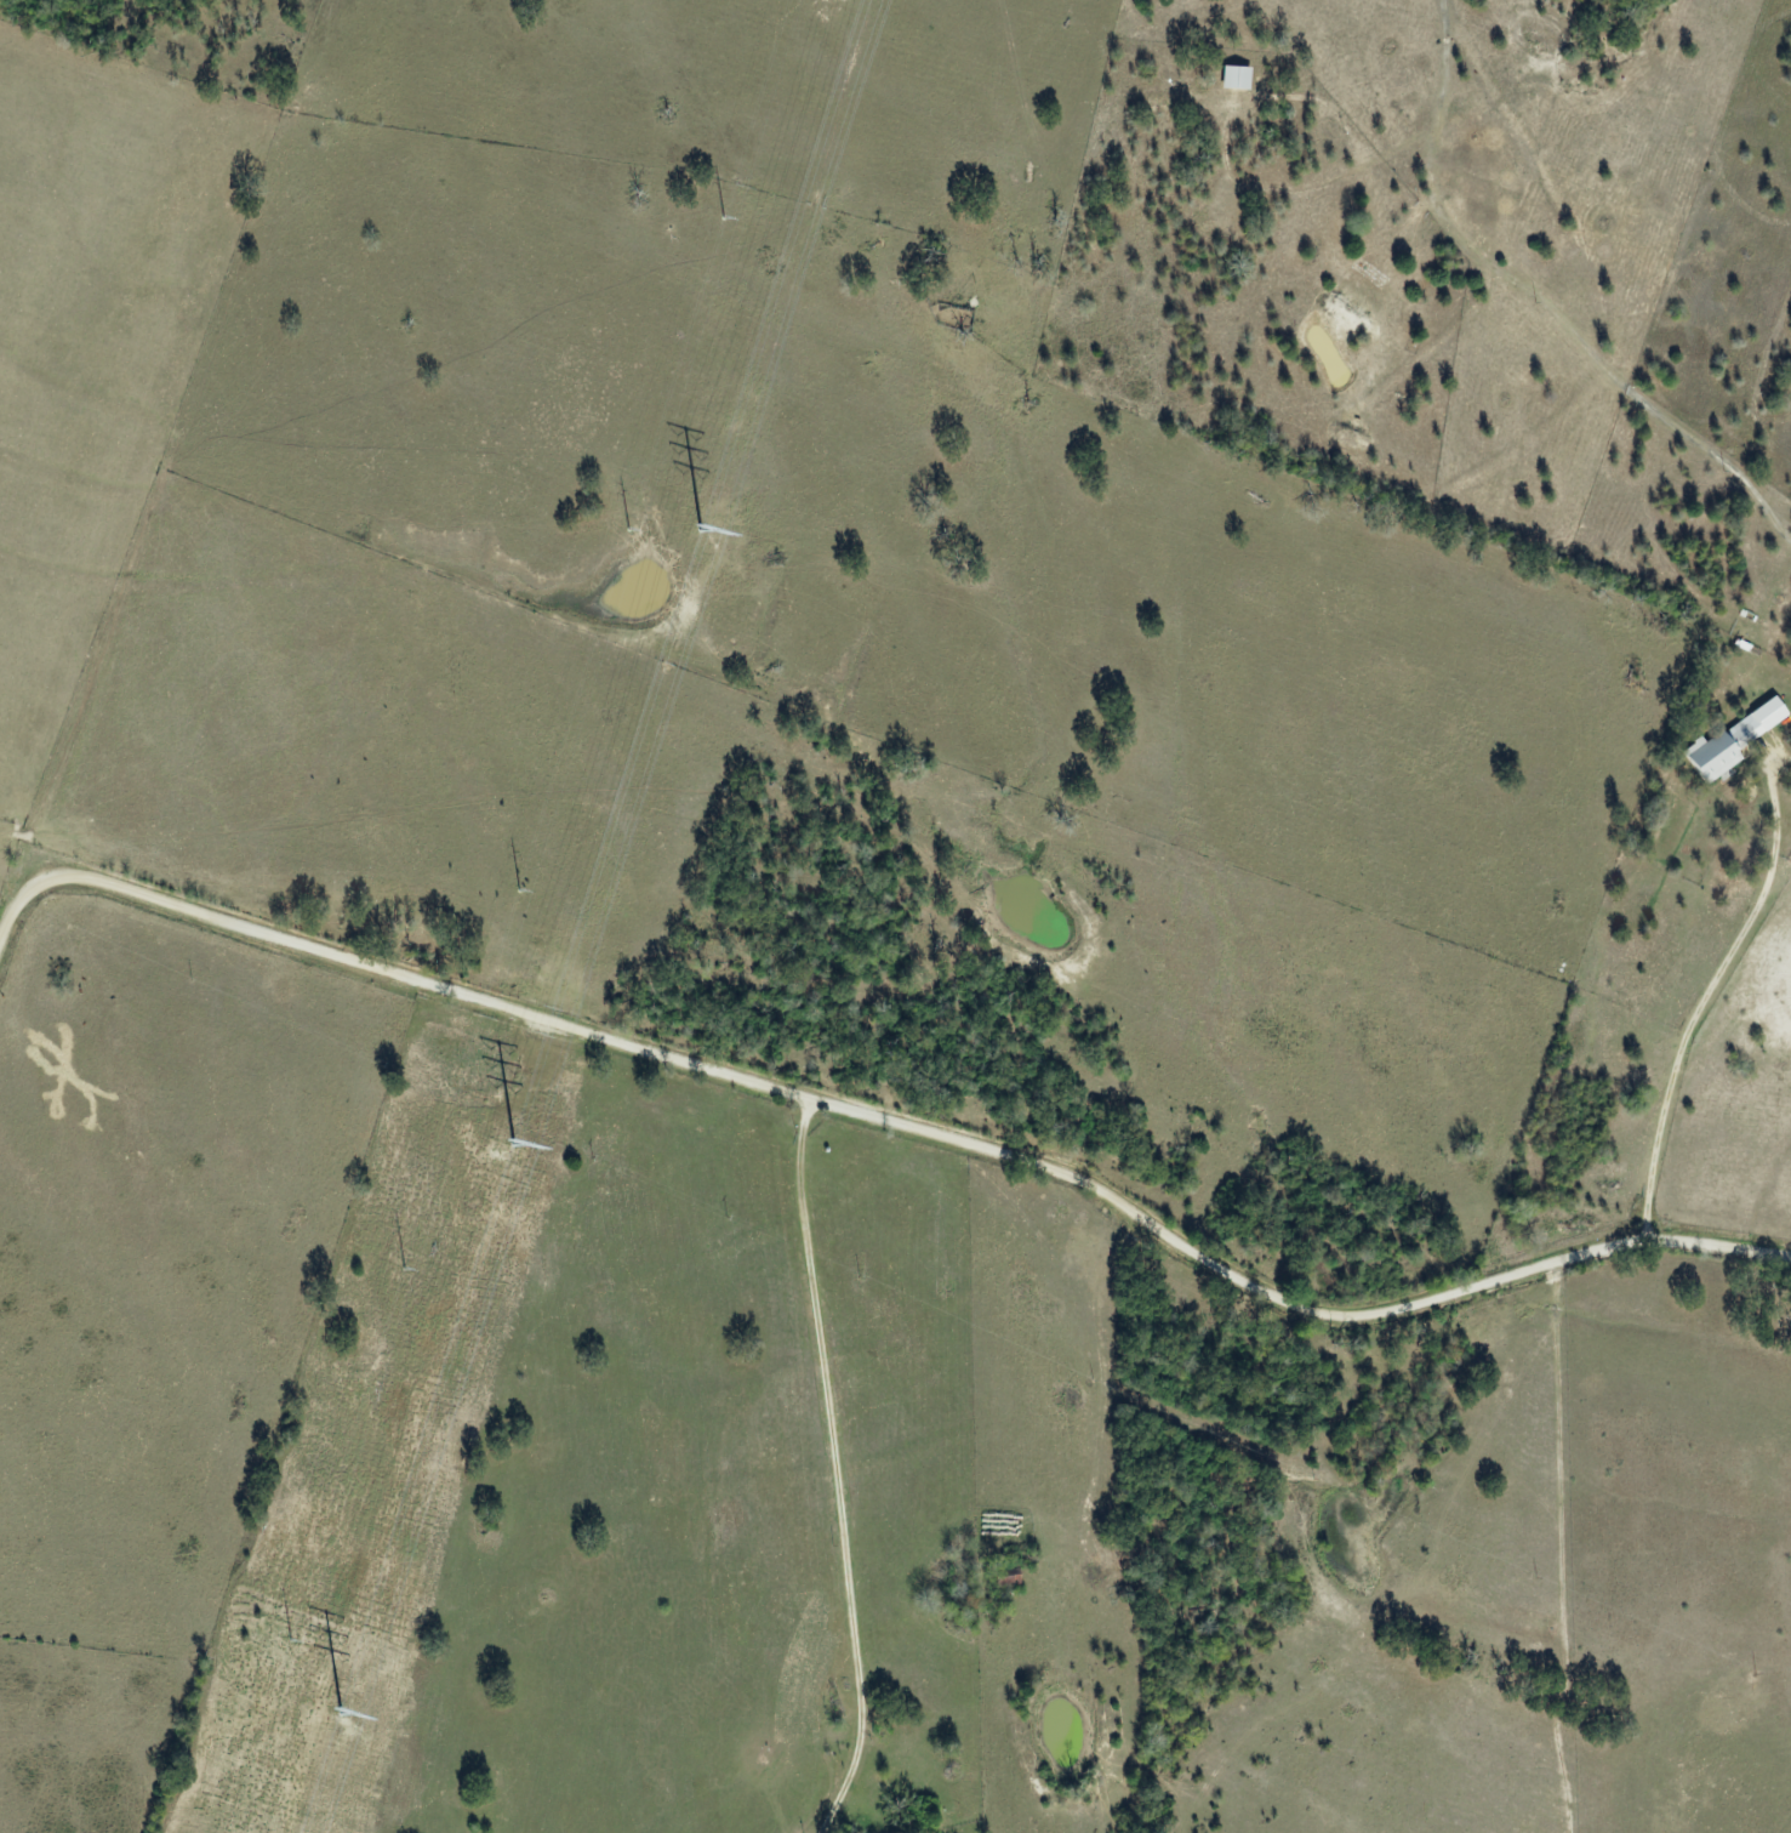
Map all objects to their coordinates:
building: (1234, 78)
power tower: (723, 217)
power tower: (627, 529)
building: (1730, 744)
power tower: (519, 890)
road: (890, 1120)
power tower: (401, 1268)
power tower: (290, 1640)

